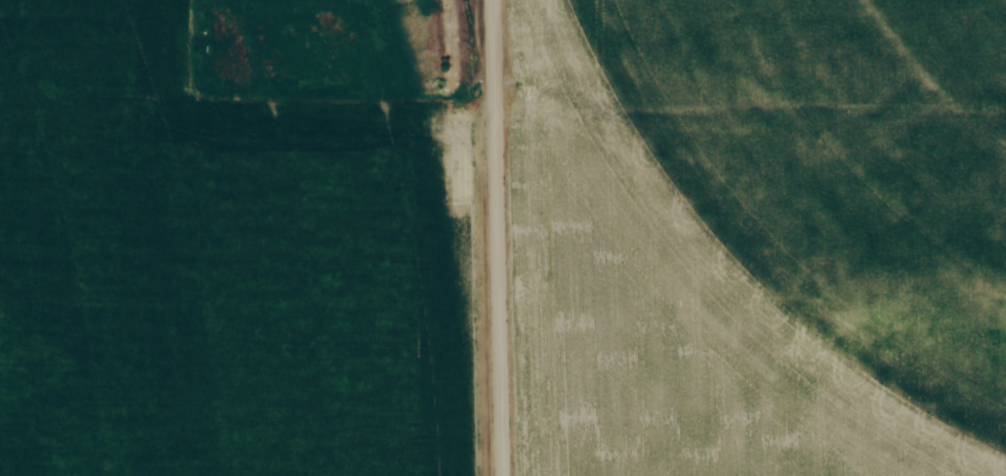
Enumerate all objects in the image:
crop: (826, 184)
road: (494, 237)
crop: (236, 238)

